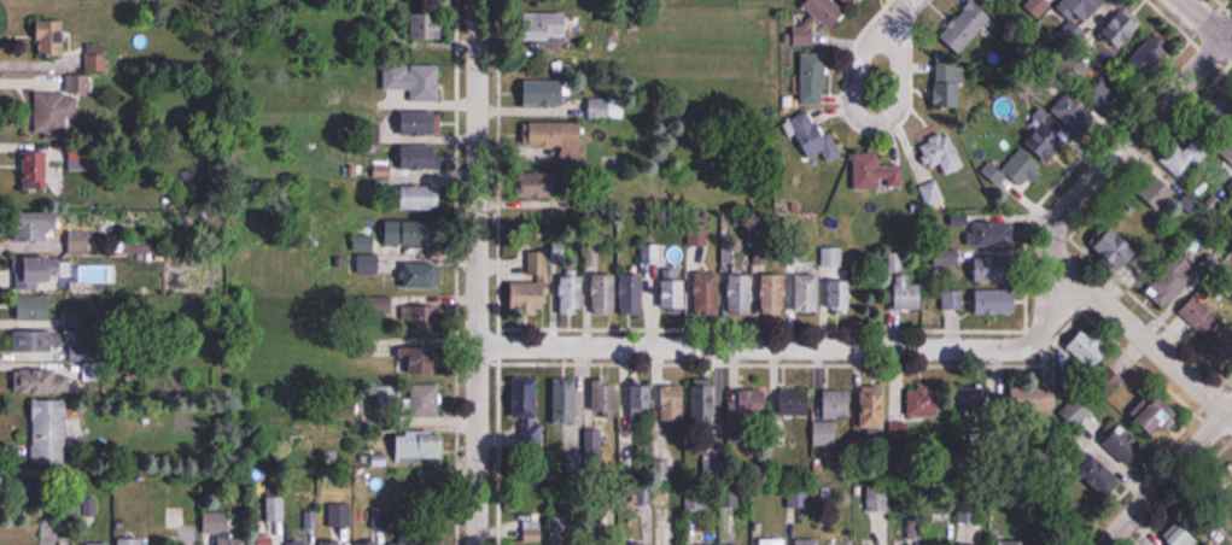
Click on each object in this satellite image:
building: (847, 1)
building: (992, 1)
building: (1038, 6)
building: (1078, 14)
building: (819, 18)
road: (1207, 22)
building: (545, 24)
building: (967, 25)
building: (427, 27)
building: (1121, 29)
road: (1227, 31)
building: (52, 37)
building: (1149, 55)
road: (880, 64)
building: (813, 78)
building: (414, 81)
building: (948, 86)
building: (1108, 89)
building: (544, 92)
building: (606, 107)
building: (54, 111)
building: (1074, 112)
building: (420, 123)
building: (1044, 134)
building: (814, 137)
building: (560, 139)
building: (939, 152)
building: (1183, 154)
building: (420, 156)
building: (874, 169)
building: (39, 171)
road: (1098, 171)
building: (1024, 176)
building: (538, 183)
building: (1156, 191)
building: (418, 197)
building: (36, 225)
building: (411, 233)
building: (989, 233)
building: (1121, 251)
building: (830, 257)
building: (992, 269)
road: (475, 271)
building: (35, 272)
building: (420, 275)
building: (1173, 280)
building: (536, 289)
building: (839, 291)
building: (572, 292)
building: (807, 292)
building: (605, 293)
building: (631, 293)
building: (707, 293)
building: (740, 293)
building: (773, 293)
building: (907, 293)
building: (671, 294)
building: (953, 299)
building: (997, 301)
building: (34, 307)
building: (418, 315)
building: (1209, 324)
road: (1143, 336)
building: (33, 342)
road: (757, 346)
building: (1091, 346)
building: (424, 361)
building: (43, 381)
building: (1117, 386)
building: (606, 398)
building: (424, 400)
building: (566, 402)
building: (642, 402)
building: (923, 402)
building: (976, 402)
building: (703, 403)
building: (794, 403)
building: (672, 404)
building: (747, 406)
building: (872, 406)
building: (527, 410)
building: (1076, 412)
building: (1158, 414)
building: (831, 416)
building: (48, 432)
building: (899, 433)
building: (1125, 445)
building: (420, 447)
road: (1167, 475)
building: (1098, 477)
building: (433, 480)
building: (39, 490)
building: (877, 499)
building: (217, 523)
building: (913, 531)
building: (532, 532)
building: (1181, 537)
building: (265, 540)
building: (130, 541)
building: (402, 541)
building: (434, 541)
building: (772, 541)
building: (232, 543)
building: (334, 543)
building: (369, 543)
building: (807, 543)
building: (1011, 543)
building: (33, 544)
building: (99, 544)
building: (300, 544)
building: (633, 544)

